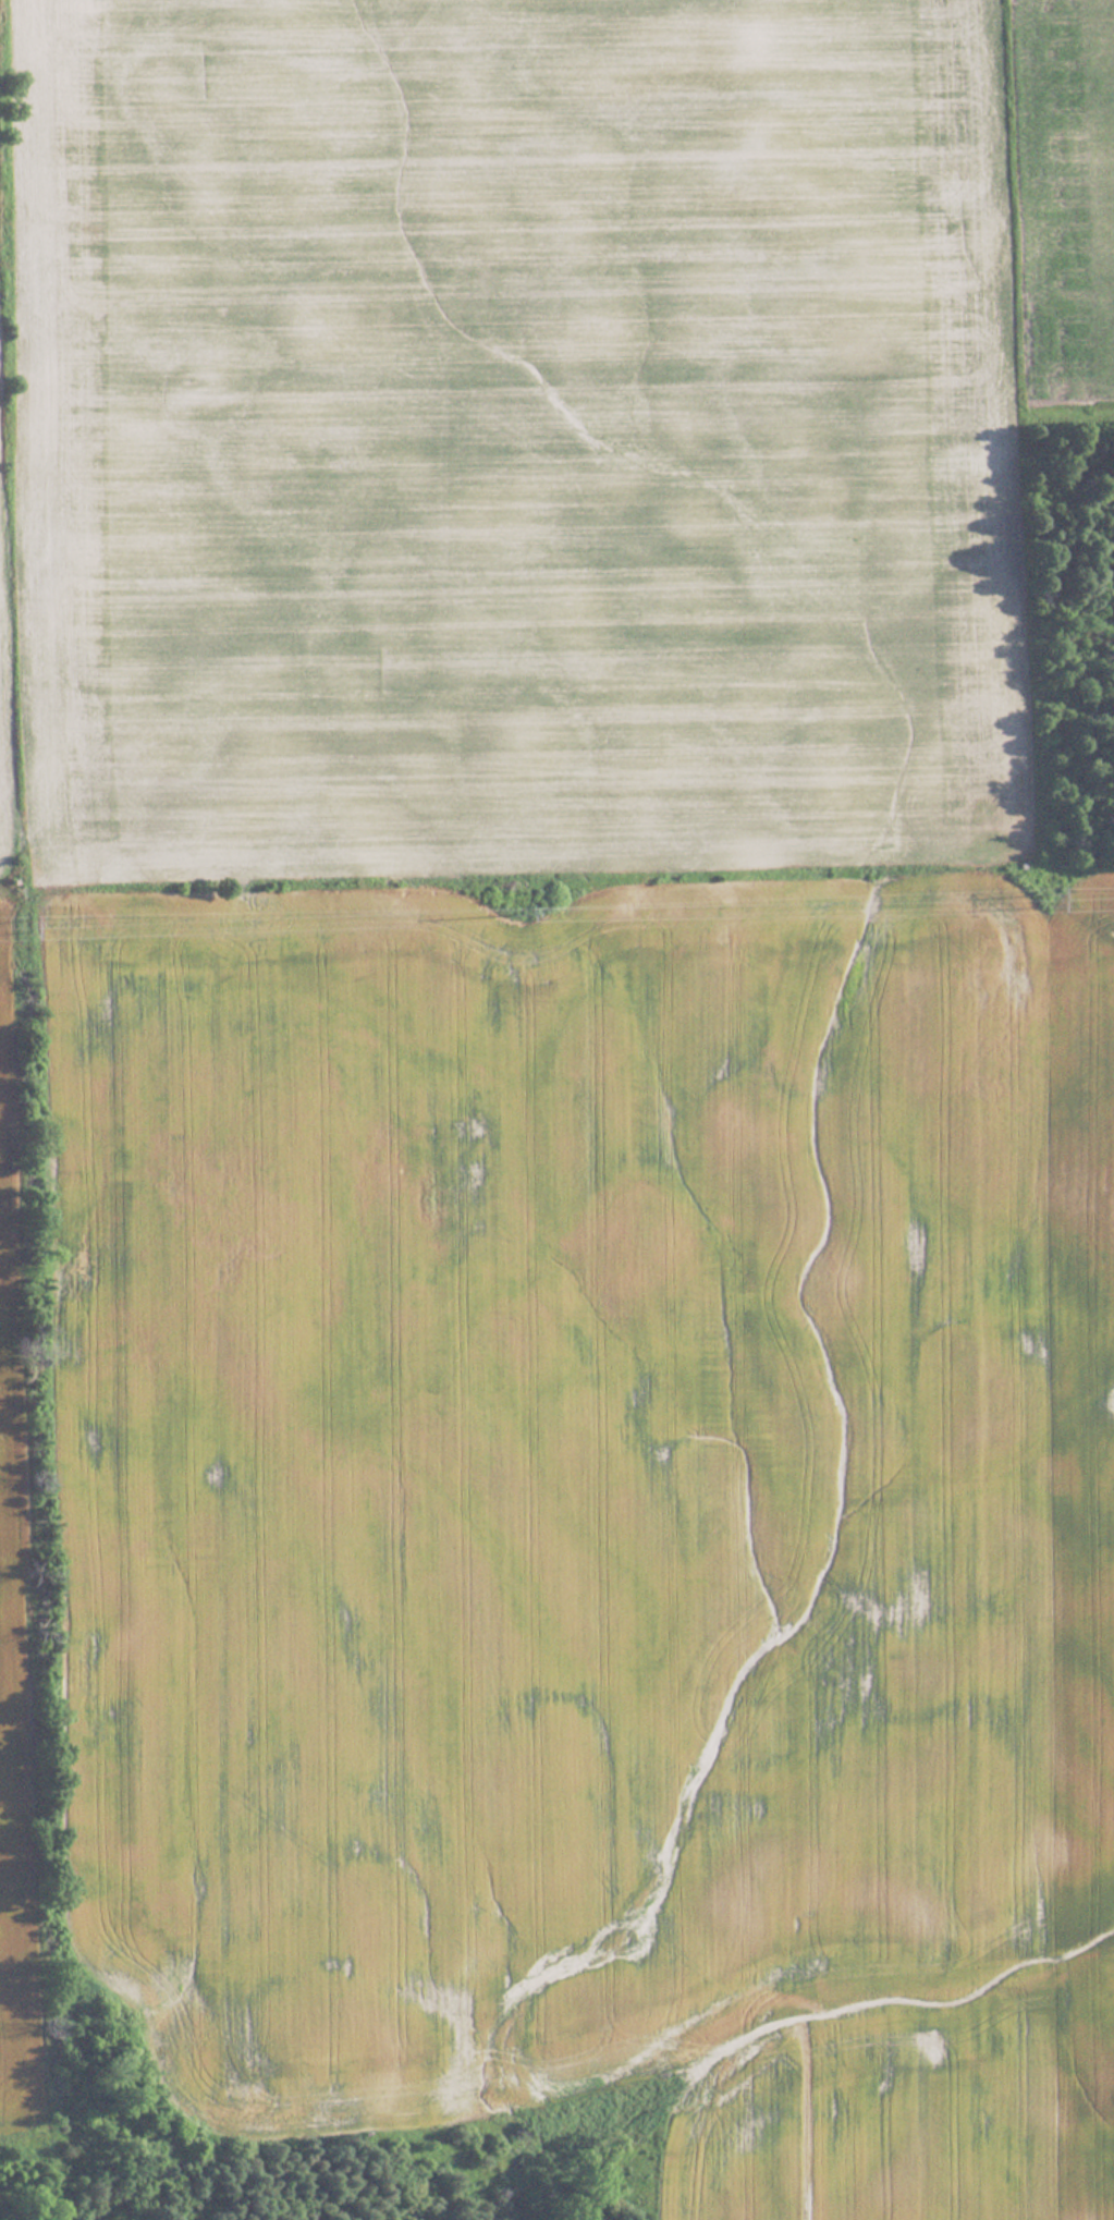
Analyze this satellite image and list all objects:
power tower: (1046, 901)
power tower: (511, 912)
power tower: (20, 928)

